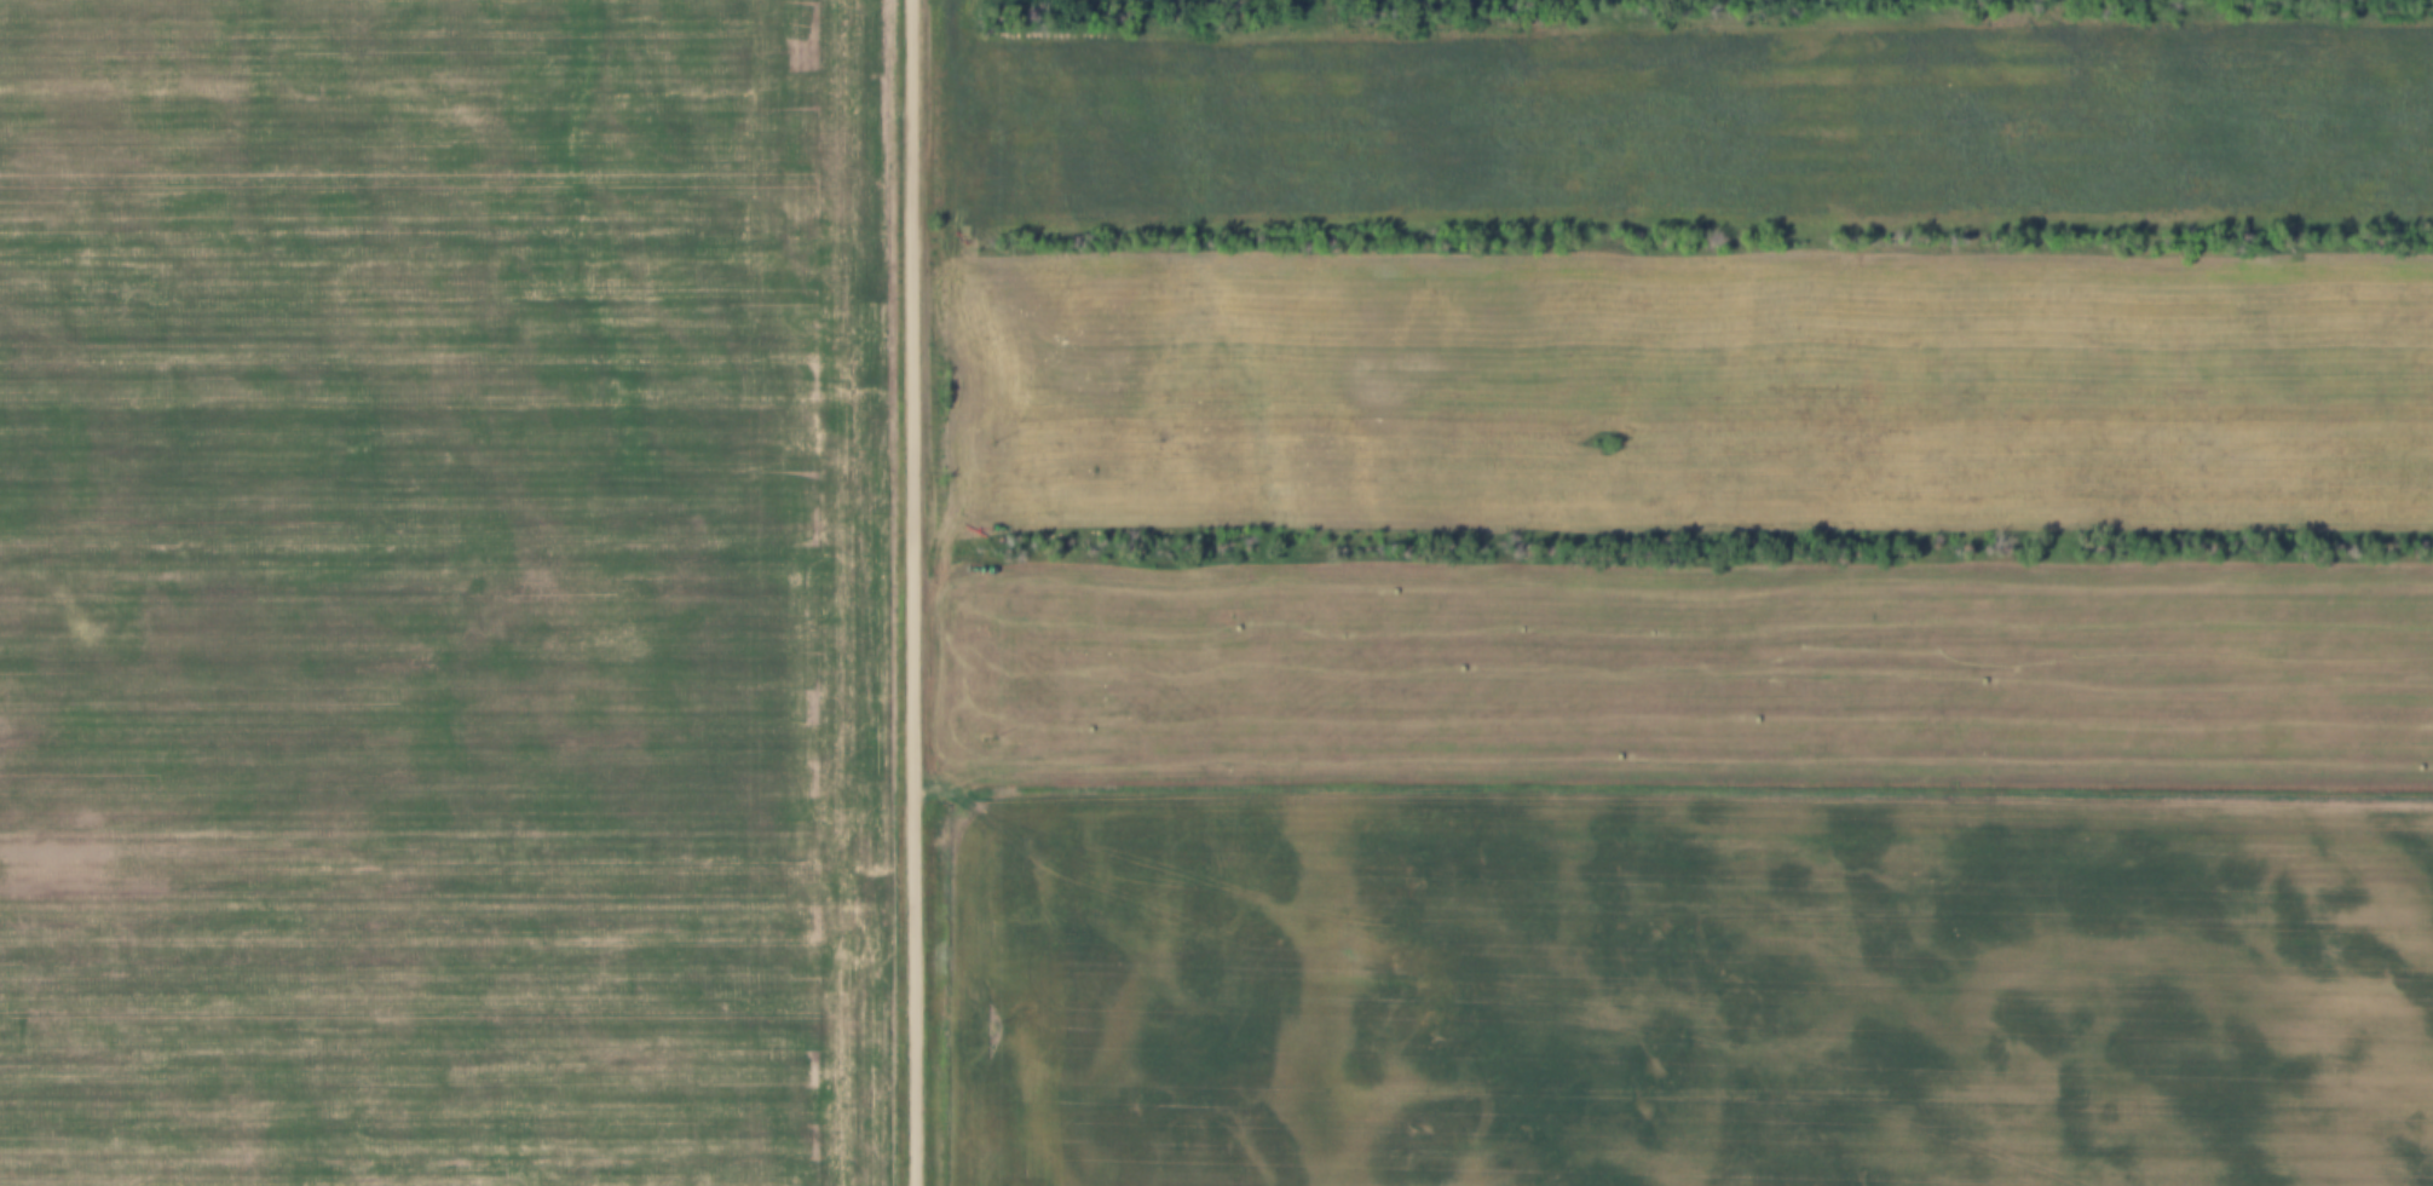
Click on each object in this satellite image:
road: (913, 592)
road: (1671, 795)

